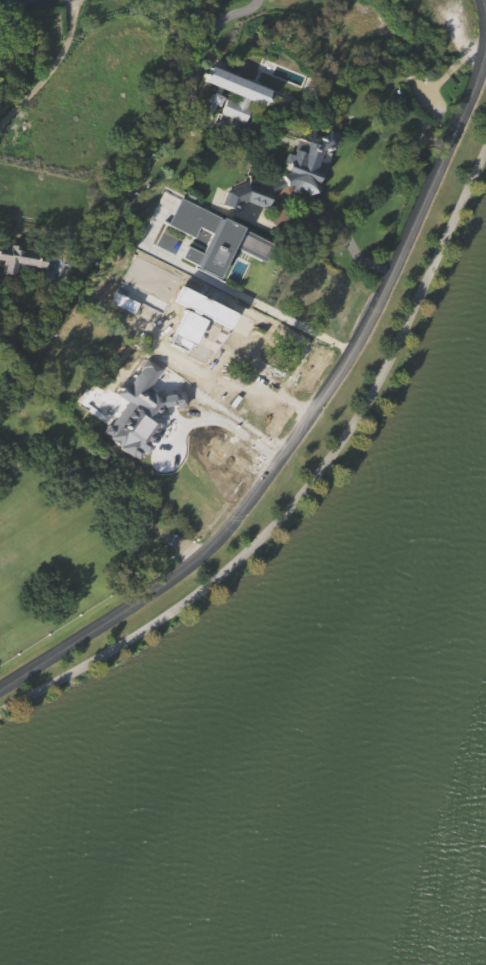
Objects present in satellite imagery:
road: (18, 4)
road: (205, 44)
road: (49, 68)
building: (233, 95)
building: (232, 122)
building: (233, 145)
building: (290, 173)
building: (286, 207)
building: (217, 238)
road: (332, 259)
building: (20, 261)
building: (214, 287)
building: (19, 293)
road: (291, 320)
road: (320, 400)
road: (306, 486)
road: (106, 496)
park: (291, 685)

